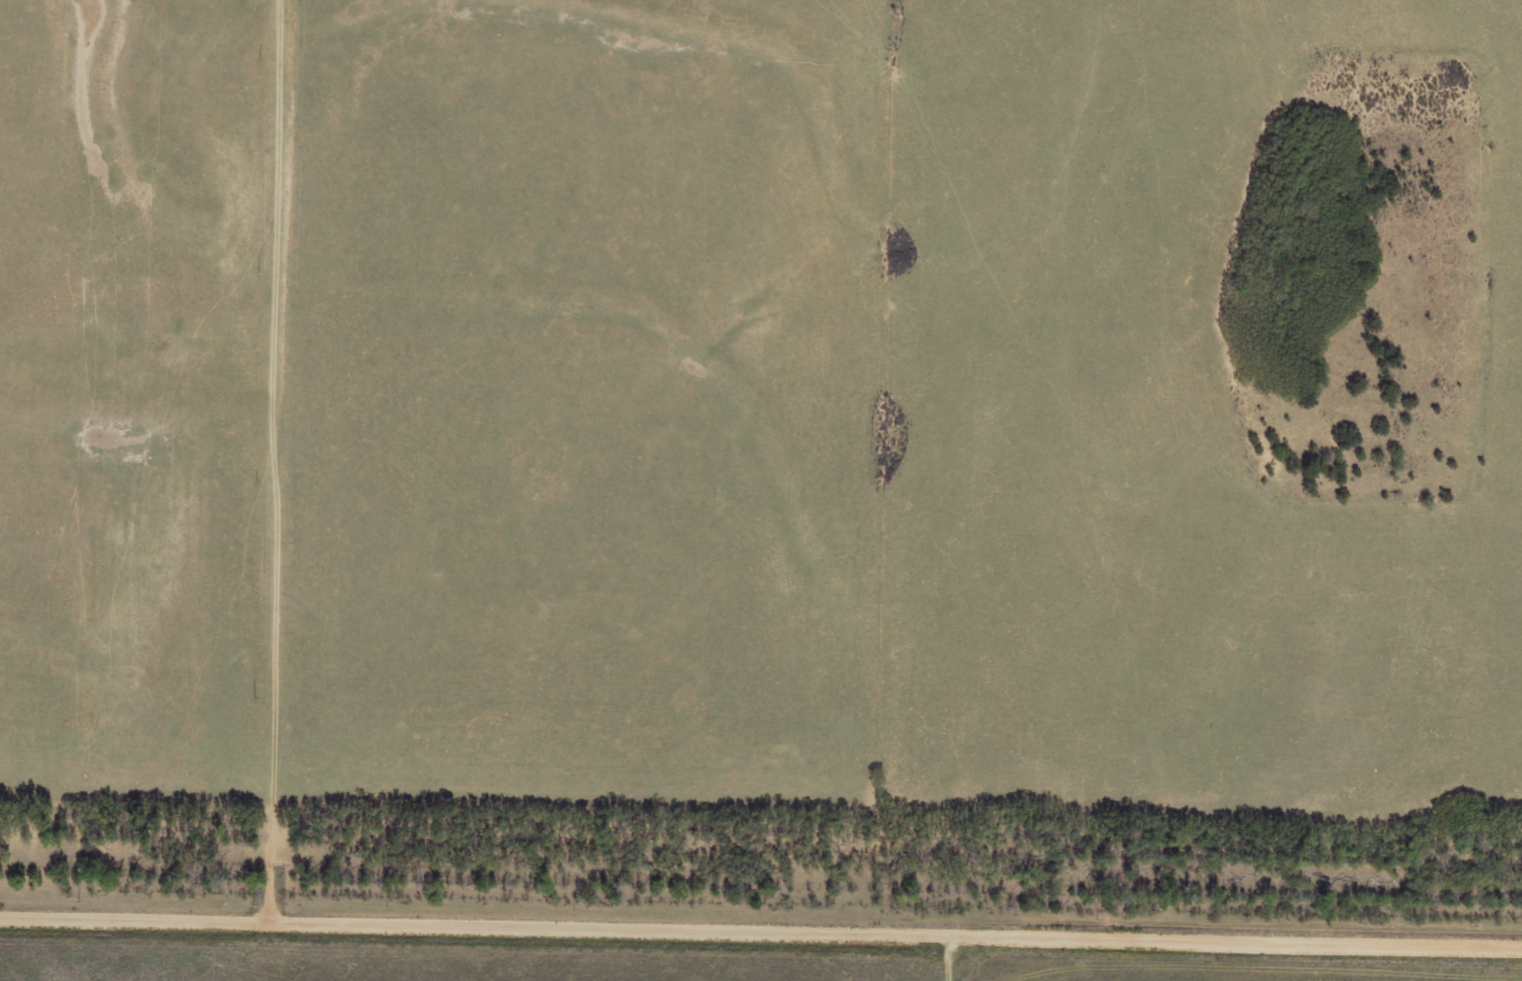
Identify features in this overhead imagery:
road: (282, 458)
road: (761, 927)
road: (966, 956)

